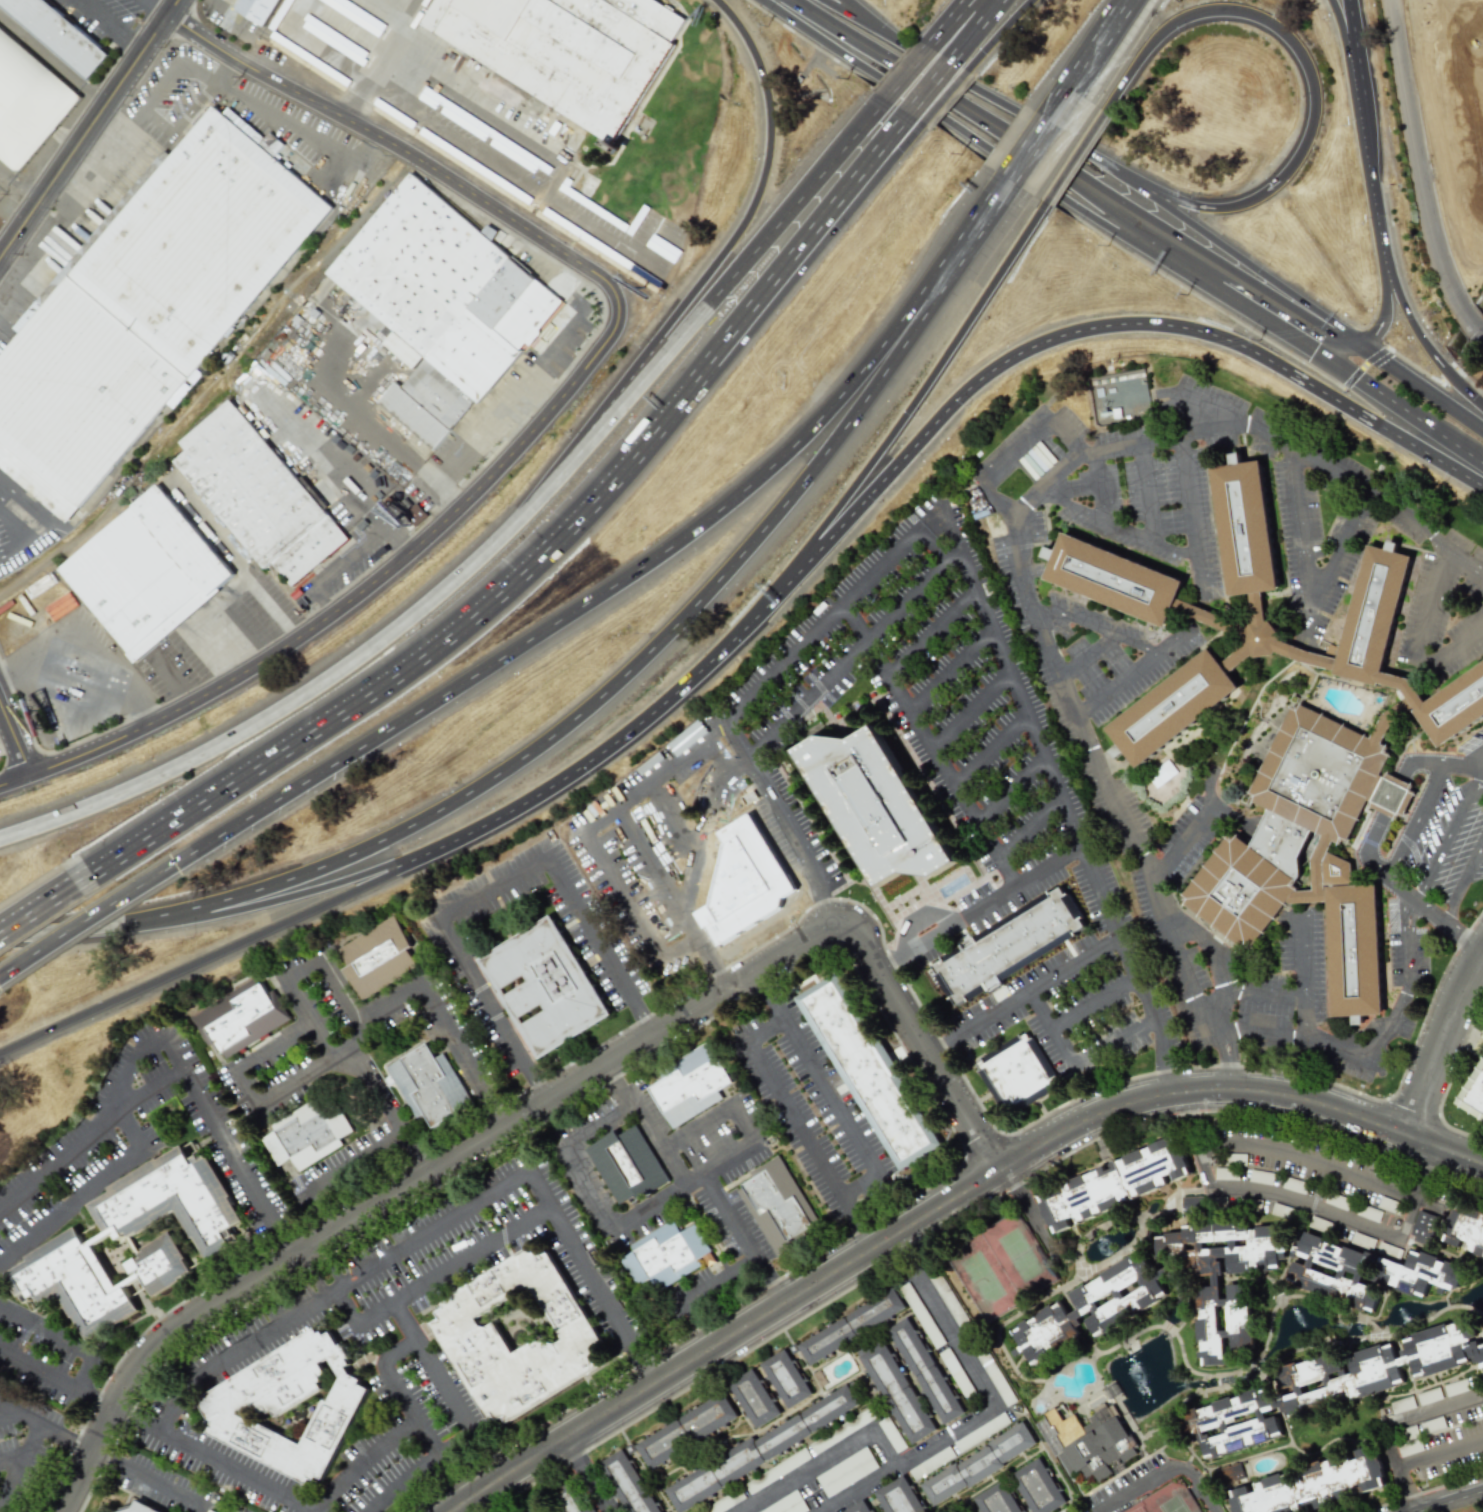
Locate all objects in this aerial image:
road: (148, 0)
road: (680, 8)
road: (158, 9)
road: (409, 9)
building: (260, 10)
road: (950, 19)
road: (955, 19)
road: (861, 20)
road: (872, 20)
road: (98, 21)
road: (1341, 28)
road: (1348, 28)
road: (983, 29)
road: (1004, 33)
building: (60, 34)
road: (1098, 47)
road: (131, 49)
building: (567, 51)
road: (387, 55)
road: (52, 60)
road: (173, 65)
road: (910, 71)
road: (228, 72)
road: (1353, 76)
road: (1313, 77)
building: (483, 85)
building: (493, 91)
road: (934, 91)
building: (502, 96)
road: (946, 97)
building: (509, 101)
building: (29, 103)
road: (1007, 108)
road: (497, 119)
road: (182, 123)
parking lot: (292, 126)
road: (89, 129)
building: (557, 130)
building: (568, 133)
road: (302, 134)
building: (563, 139)
road: (1037, 139)
road: (459, 142)
building: (576, 142)
road: (993, 145)
road: (1074, 163)
parking lot: (521, 166)
road: (1422, 171)
road: (101, 174)
road: (1074, 174)
road: (1371, 180)
road: (19, 187)
road: (844, 203)
road: (849, 205)
road: (989, 210)
road: (610, 241)
road: (1238, 256)
road: (714, 267)
road: (710, 305)
building: (443, 306)
building: (148, 307)
road: (1386, 313)
road: (1271, 319)
road: (1093, 330)
road: (1426, 341)
traffic signals: (1353, 345)
road: (550, 346)
road: (1339, 349)
road: (1418, 386)
power substation: (1120, 396)
road: (1404, 407)
road: (913, 408)
road: (548, 414)
road: (1054, 428)
road: (376, 430)
road: (1468, 446)
road: (330, 464)
road: (1093, 482)
road: (1042, 484)
road: (1142, 489)
building: (260, 495)
road: (1188, 496)
road: (1066, 503)
building: (396, 512)
road: (35, 523)
road: (1164, 545)
road: (546, 550)
road: (339, 567)
parking lot: (343, 568)
building: (148, 574)
road: (1307, 585)
road: (607, 591)
road: (1045, 606)
road: (1426, 614)
road: (1304, 619)
road: (1103, 627)
parking lot: (221, 634)
road: (859, 639)
road: (1459, 648)
road: (1086, 655)
road: (950, 671)
road: (740, 700)
road: (288, 705)
road: (597, 705)
road: (967, 705)
road: (789, 710)
road: (916, 726)
building: (1282, 733)
road: (624, 738)
road: (15, 741)
road: (989, 749)
road: (1472, 753)
road: (1008, 789)
road: (1391, 798)
road: (1061, 800)
road: (771, 805)
building: (878, 806)
road: (672, 818)
road: (1419, 821)
road: (177, 822)
road: (1028, 828)
road: (1449, 833)
road: (1183, 850)
building: (746, 882)
road: (1463, 886)
road: (490, 890)
road: (622, 894)
road: (989, 903)
road: (44, 906)
road: (829, 906)
road: (254, 907)
road: (1158, 907)
road: (87, 919)
road: (915, 919)
road: (1442, 921)
road: (24, 933)
road: (225, 949)
road: (703, 950)
building: (1013, 950)
building: (378, 957)
road: (1301, 958)
road: (1214, 959)
road: (889, 969)
road: (1033, 984)
building: (549, 988)
road: (333, 992)
road: (1289, 993)
road: (764, 997)
road: (426, 999)
road: (1090, 999)
road: (1397, 1014)
building: (242, 1019)
road: (1047, 1023)
road: (647, 1027)
road: (750, 1033)
road: (1111, 1038)
road: (325, 1042)
road: (1441, 1042)
road: (937, 1044)
road: (167, 1046)
building: (870, 1073)
building: (1018, 1076)
road: (1449, 1079)
building: (431, 1086)
building: (692, 1086)
building: (1477, 1088)
road: (288, 1090)
road: (539, 1091)
road: (543, 1103)
road: (740, 1112)
road: (995, 1130)
building: (310, 1133)
road: (655, 1146)
road: (1308, 1161)
road: (118, 1165)
building: (627, 1165)
road: (352, 1166)
building: (1223, 1173)
building: (1260, 1177)
building: (1111, 1185)
building: (1294, 1185)
road: (1304, 1203)
building: (1192, 1204)
road: (942, 1206)
building: (1281, 1211)
building: (781, 1212)
road: (1030, 1213)
building: (1371, 1214)
road: (631, 1217)
building: (1423, 1228)
building: (1465, 1232)
building: (1362, 1240)
building: (136, 1242)
fountain: (1105, 1247)
road: (902, 1250)
road: (311, 1253)
park: (1019, 1254)
road: (313, 1258)
road: (1109, 1259)
building: (667, 1260)
building: (1421, 1271)
road: (371, 1273)
park: (981, 1277)
road: (437, 1280)
road: (331, 1286)
road: (334, 1291)
road: (699, 1291)
building: (1208, 1292)
building: (948, 1300)
building: (1092, 1308)
fountain: (1399, 1313)
building: (920, 1315)
fountain: (1297, 1319)
road: (404, 1323)
fountain: (1356, 1327)
building: (853, 1329)
road: (66, 1337)
building: (522, 1341)
building: (929, 1373)
road: (36, 1375)
building: (956, 1375)
road: (1200, 1375)
fountain: (1137, 1380)
building: (788, 1383)
building: (1333, 1385)
road: (398, 1387)
building: (900, 1396)
building: (1423, 1398)
building: (757, 1401)
road: (92, 1402)
building: (1401, 1405)
building: (295, 1410)
road: (6, 1413)
road: (22, 1416)
road: (977, 1416)
road: (1418, 1417)
road: (139, 1419)
building: (981, 1432)
building: (689, 1433)
building: (891, 1434)
road: (68, 1439)
road: (454, 1440)
building: (1087, 1441)
building: (1409, 1447)
road: (1439, 1449)
building: (765, 1450)
road: (18, 1451)
road: (439, 1455)
road: (574, 1456)
road: (822, 1459)
building: (931, 1463)
road: (362, 1464)
road: (457, 1467)
building: (982, 1468)
road: (22, 1469)
building: (845, 1472)
road: (1164, 1474)
building: (1231, 1474)
road: (441, 1478)
road: (150, 1479)
building: (627, 1485)
building: (1314, 1486)
road: (1403, 1487)
road: (463, 1491)
road: (595, 1492)
building: (1026, 1494)
building: (901, 1500)
road: (1445, 1500)
building: (787, 1505)
park: (1174, 1505)
building: (570, 1506)
building: (141, 1507)
building: (533, 1510)
building: (864, 1510)
park: (1137, 1510)
building: (1065, 1511)

